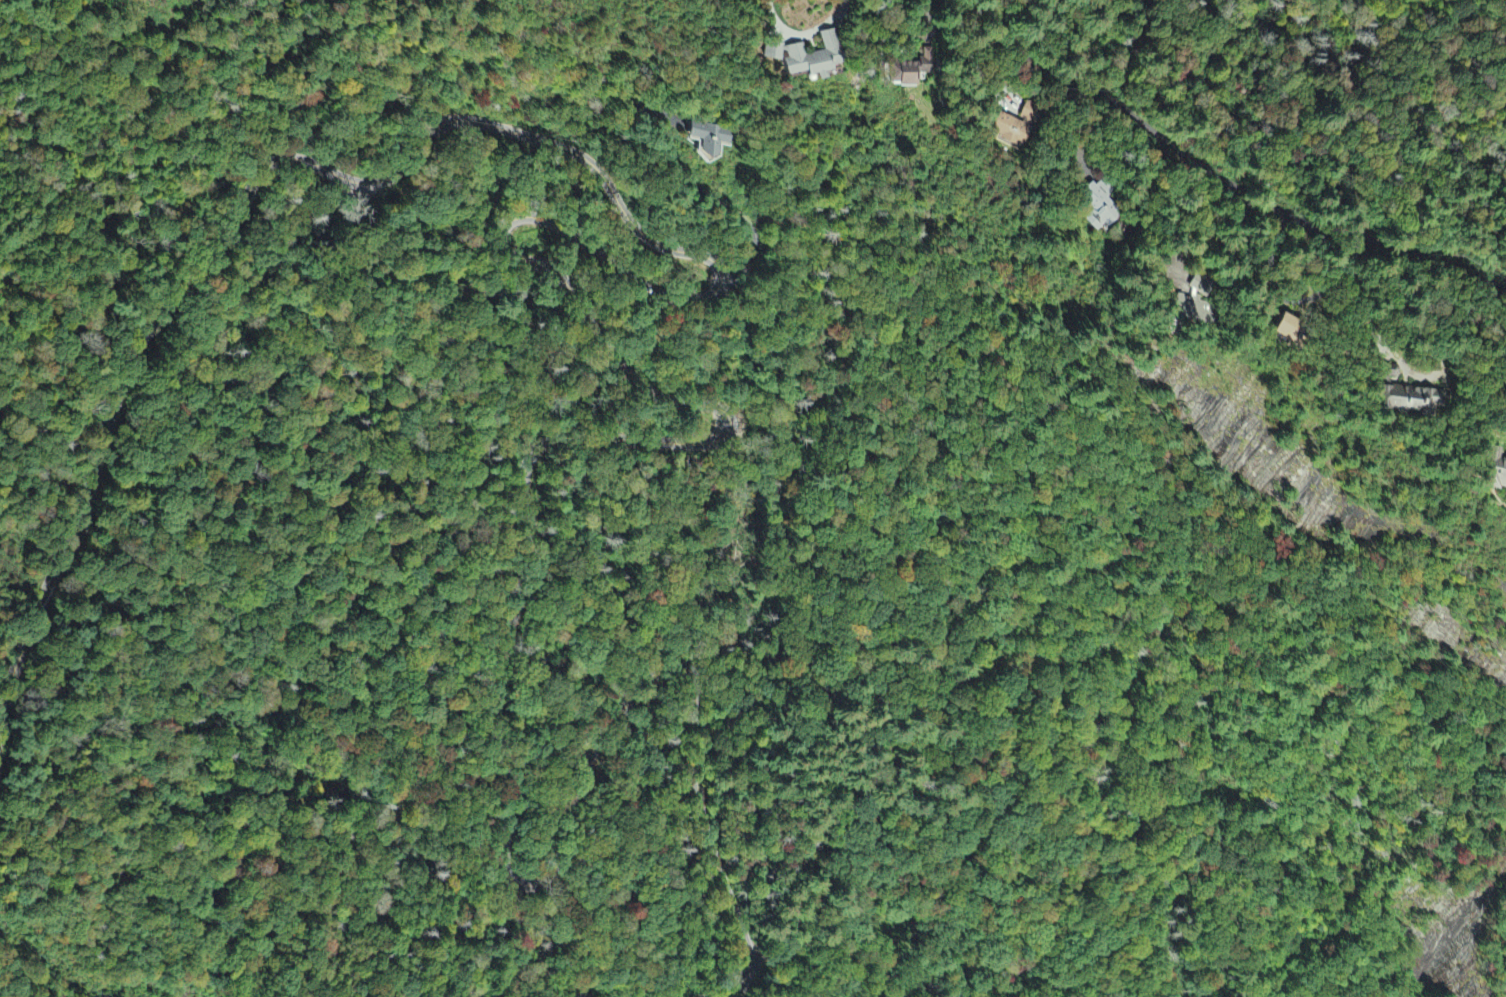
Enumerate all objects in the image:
building: (802, 58)
road: (494, 128)
building: (1015, 129)
building: (707, 139)
road: (1222, 182)
building: (1095, 210)
building: (1193, 306)
building: (1289, 330)
building: (1411, 401)
building: (1499, 475)
road: (490, 714)
road: (709, 839)

